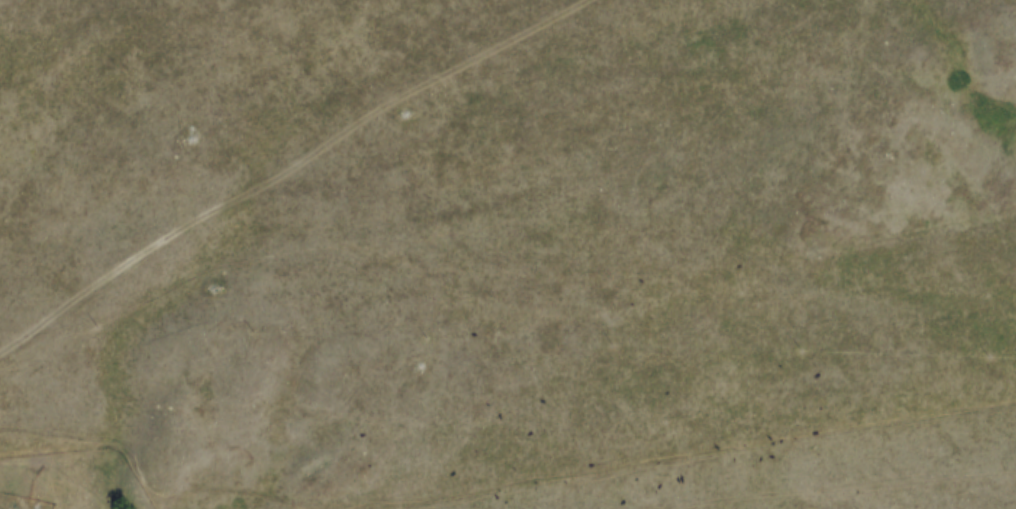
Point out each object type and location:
road: (279, 168)

